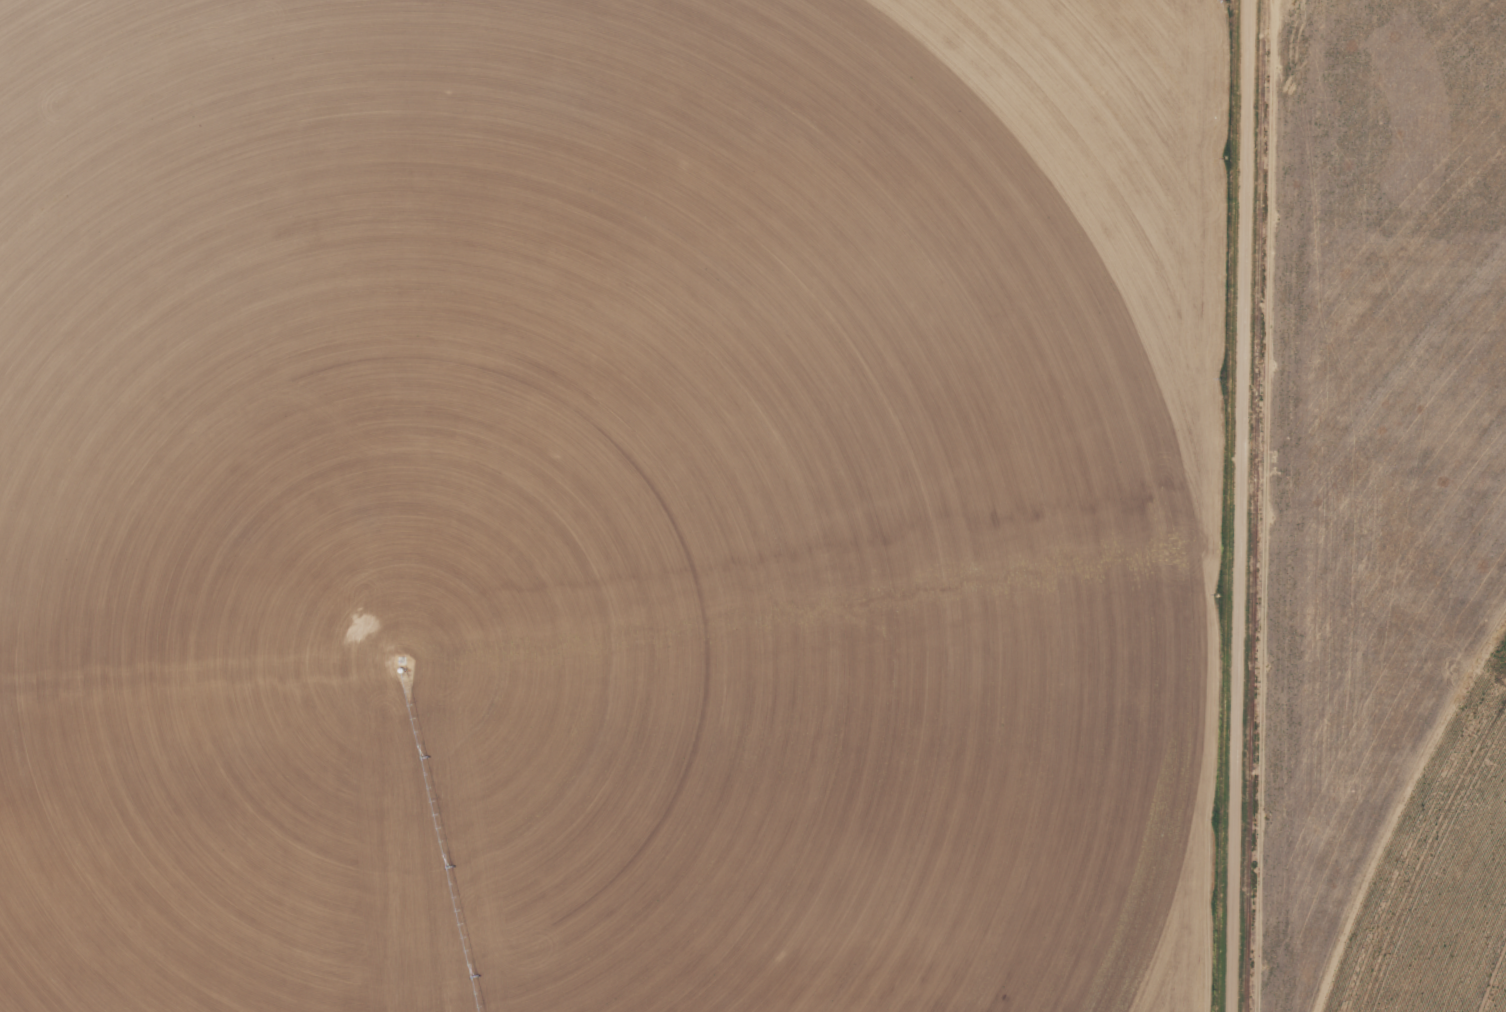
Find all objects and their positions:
road: (1237, 506)
crop: (1394, 515)

